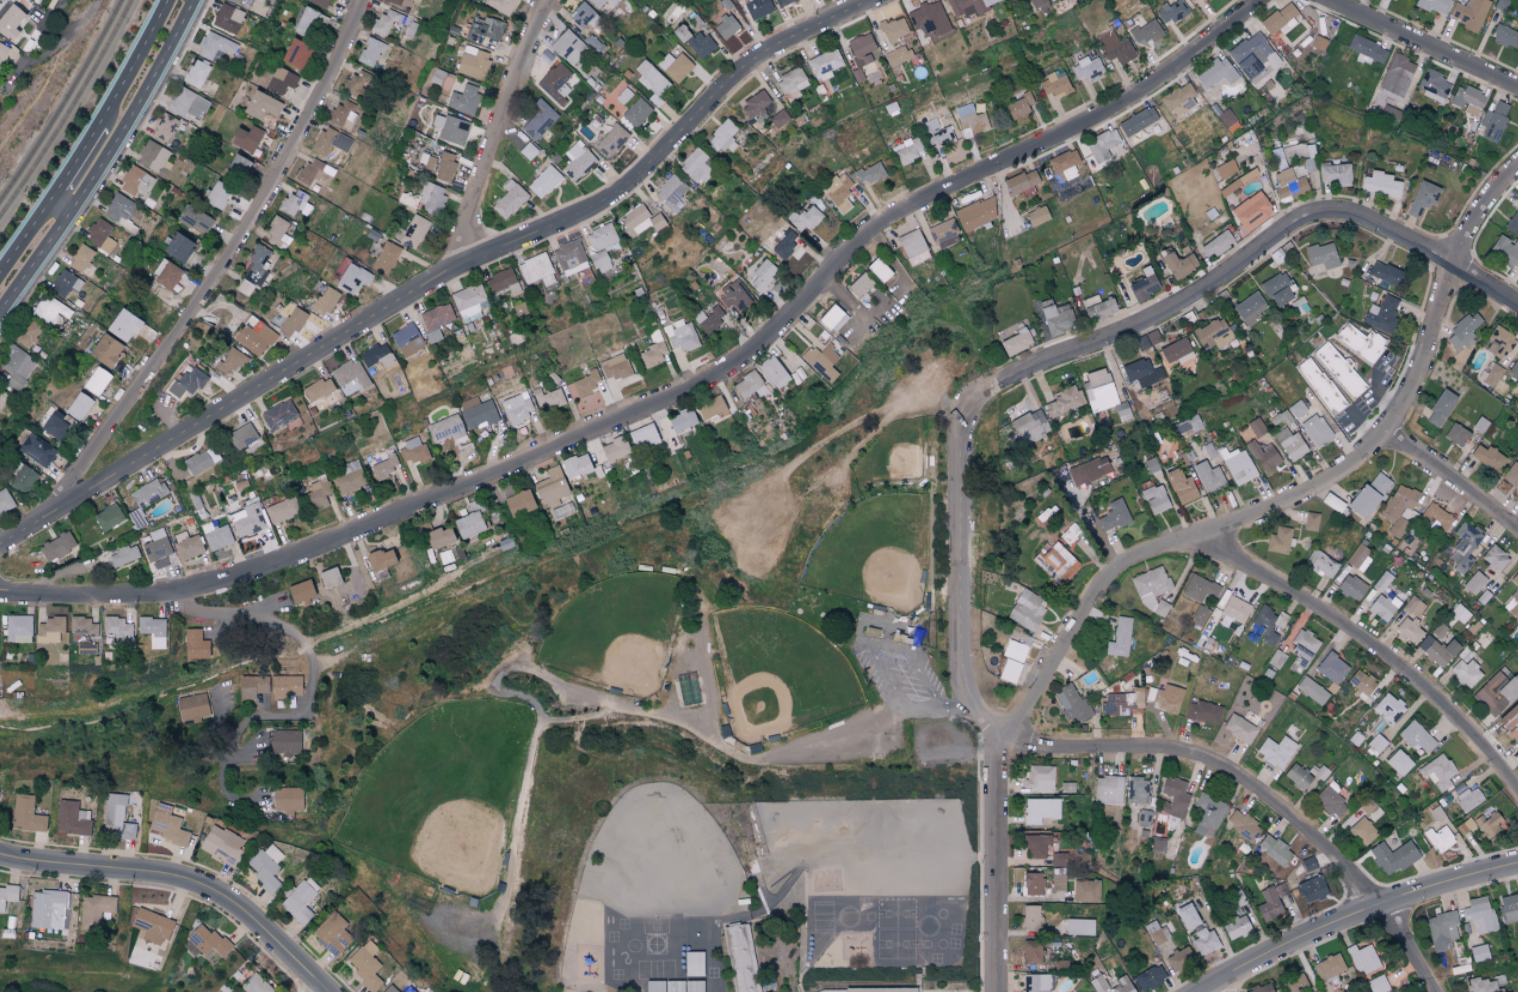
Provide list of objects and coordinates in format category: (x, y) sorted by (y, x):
building: (1191, 0)
building: (1201, 0)
building: (243, 2)
building: (319, 2)
building: (396, 2)
building: (783, 2)
building: (597, 4)
building: (500, 5)
building: (1039, 5)
building: (1433, 5)
building: (968, 6)
building: (758, 8)
building: (1171, 12)
building: (1468, 13)
building: (581, 15)
building: (1278, 17)
building: (227, 18)
building: (929, 18)
building: (9, 21)
building: (305, 21)
building: (385, 21)
building: (1287, 25)
building: (726, 26)
building: (483, 29)
building: (894, 29)
building: (1146, 31)
building: (680, 33)
building: (1505, 36)
building: (1318, 43)
road: (1424, 43)
building: (699, 44)
building: (215, 46)
building: (568, 47)
building: (861, 48)
building: (1115, 48)
building: (1366, 48)
building: (2, 50)
building: (371, 52)
building: (293, 53)
building: (897, 56)
building: (472, 62)
road: (133, 63)
building: (824, 64)
building: (675, 66)
building: (1086, 68)
road: (51, 73)
building: (196, 73)
building: (1215, 73)
building: (1397, 75)
building: (281, 80)
building: (652, 81)
building: (555, 83)
building: (791, 83)
building: (1432, 84)
building: (1054, 85)
building: (463, 99)
building: (1179, 99)
building: (1467, 100)
railway: (63, 102)
building: (186, 104)
building: (755, 104)
building: (261, 105)
building: (1018, 107)
railway: (68, 110)
building: (636, 112)
building: (1388, 112)
building: (342, 114)
building: (779, 118)
building: (538, 119)
building: (971, 120)
building: (1228, 120)
building: (1137, 121)
building: (1494, 121)
building: (164, 127)
building: (450, 128)
road: (499, 132)
building: (938, 135)
building: (723, 137)
building: (245, 138)
building: (612, 141)
building: (329, 143)
building: (1105, 146)
building: (909, 150)
building: (527, 151)
building: (1280, 157)
building: (153, 158)
road: (103, 160)
building: (577, 161)
road: (74, 163)
building: (429, 163)
building: (1064, 163)
building: (236, 165)
building: (445, 166)
building: (697, 166)
building: (1226, 168)
building: (312, 171)
building: (869, 173)
building: (1334, 174)
building: (543, 181)
building: (1021, 181)
building: (135, 182)
building: (1380, 184)
building: (1288, 185)
building: (671, 193)
building: (838, 193)
building: (217, 195)
building: (431, 197)
building: (1421, 198)
building: (509, 199)
building: (291, 203)
road: (58, 207)
building: (119, 207)
building: (1251, 210)
building: (975, 214)
building: (1037, 216)
building: (195, 219)
building: (804, 219)
building: (640, 221)
building: (1513, 223)
building: (413, 231)
building: (278, 233)
building: (943, 233)
building: (100, 235)
road: (24, 236)
building: (784, 244)
building: (911, 244)
building: (1216, 244)
building: (603, 246)
building: (178, 247)
building: (1505, 250)
building: (1321, 255)
building: (570, 257)
building: (81, 258)
building: (385, 258)
building: (1178, 265)
road: (222, 266)
building: (254, 270)
building: (536, 270)
building: (879, 270)
building: (1384, 273)
road: (444, 274)
building: (167, 275)
building: (762, 275)
building: (352, 279)
building: (502, 282)
building: (65, 284)
building: (1143, 284)
building: (860, 285)
building: (1276, 290)
building: (735, 295)
building: (324, 301)
building: (468, 302)
building: (1098, 307)
building: (1250, 307)
building: (50, 310)
building: (1381, 314)
building: (1056, 317)
building: (709, 319)
building: (832, 319)
building: (436, 320)
building: (292, 321)
building: (122, 325)
building: (1463, 332)
building: (27, 334)
building: (1212, 334)
building: (680, 335)
building: (254, 337)
building: (406, 340)
road: (1090, 341)
building: (1015, 342)
building: (1360, 342)
building: (1501, 344)
building: (104, 350)
building: (1176, 351)
building: (652, 354)
building: (376, 356)
building: (232, 360)
building: (821, 361)
building: (16, 366)
building: (614, 367)
building: (1339, 369)
building: (1514, 369)
building: (773, 372)
building: (1142, 373)
building: (1490, 374)
building: (350, 377)
building: (97, 381)
building: (187, 382)
building: (585, 384)
building: (747, 384)
building: (1318, 385)
building: (319, 389)
road: (675, 394)
building: (1103, 394)
road: (1385, 394)
building: (548, 399)
building: (1064, 401)
building: (79, 406)
building: (710, 407)
building: (517, 408)
building: (1296, 408)
building: (1440, 408)
building: (278, 414)
building: (479, 415)
building: (682, 420)
road: (1363, 424)
building: (55, 425)
building: (1031, 425)
building: (1256, 427)
building: (446, 428)
building: (1316, 431)
building: (1457, 435)
building: (242, 436)
building: (643, 436)
building: (1290, 444)
building: (614, 449)
building: (36, 450)
building: (413, 451)
building: (1263, 455)
park: (898, 456)
building: (1487, 457)
building: (199, 461)
building: (1151, 465)
building: (576, 466)
building: (1238, 466)
building: (383, 468)
building: (1088, 471)
road: (1452, 475)
building: (1511, 475)
building: (348, 478)
building: (1208, 478)
building: (22, 479)
building: (551, 486)
building: (1180, 487)
building: (148, 493)
building: (317, 493)
building: (1368, 496)
road: (1300, 498)
building: (1155, 499)
building: (5, 502)
building: (1332, 502)
building: (518, 503)
building: (1399, 509)
building: (281, 511)
building: (1113, 516)
building: (108, 517)
building: (1436, 517)
building: (137, 519)
building: (247, 521)
building: (467, 525)
building: (1309, 525)
building: (1069, 535)
building: (216, 536)
building: (438, 537)
building: (1278, 541)
building: (187, 545)
building: (157, 546)
building: (56, 547)
building: (1464, 547)
park: (873, 554)
building: (124, 555)
building: (1359, 556)
building: (1494, 558)
building: (379, 559)
building: (1322, 562)
building: (328, 577)
building: (1515, 579)
building: (1382, 582)
building: (1474, 583)
building: (1351, 587)
building: (1200, 590)
building: (1151, 591)
building: (300, 592)
building: (1512, 604)
building: (1383, 607)
building: (1413, 607)
building: (1235, 609)
building: (1025, 610)
building: (1459, 614)
building: (1199, 615)
building: (1262, 627)
building: (83, 628)
building: (18, 629)
building: (49, 629)
building: (1438, 630)
building: (117, 631)
building: (153, 631)
building: (1408, 631)
park: (616, 634)
building: (1119, 638)
road: (1366, 642)
building: (195, 644)
building: (85, 649)
building: (1302, 650)
building: (1438, 650)
building: (1015, 651)
road: (875, 652)
building: (1276, 659)
park: (652, 663)
road: (310, 667)
building: (1010, 670)
building: (1332, 670)
parking lot: (897, 672)
building: (1467, 673)
park: (776, 674)
building: (1361, 684)
building: (252, 686)
building: (285, 686)
road: (579, 690)
building: (1312, 691)
building: (1496, 693)
building: (1166, 698)
building: (1072, 704)
building: (1117, 705)
building: (192, 706)
road: (954, 707)
building: (1388, 708)
building: (1202, 712)
building: (1510, 722)
building: (1239, 729)
building: (1416, 736)
building: (286, 742)
building: (1377, 743)
building: (1276, 751)
building: (1399, 762)
building: (1439, 772)
building: (1298, 776)
building: (1039, 779)
road: (1262, 785)
building: (1108, 790)
building: (1136, 790)
park: (442, 794)
building: (1173, 797)
building: (286, 799)
building: (1469, 799)
building: (1331, 800)
building: (1040, 810)
building: (1207, 812)
building: (26, 815)
building: (72, 818)
building: (116, 819)
building: (1242, 824)
building: (1489, 824)
building: (167, 825)
building: (1465, 826)
building: (1362, 831)
building: (1440, 838)
building: (222, 845)
building: (1157, 845)
building: (1274, 850)
building: (1392, 857)
building: (1059, 859)
building: (1308, 865)
building: (266, 868)
road: (996, 869)
road: (186, 878)
building: (1033, 884)
building: (1310, 889)
building: (1085, 890)
building: (8, 895)
building: (300, 901)
building: (1269, 905)
building: (1509, 908)
building: (47, 909)
building: (95, 909)
building: (1479, 914)
building: (1186, 917)
building: (1030, 918)
road: (1356, 918)
building: (151, 926)
building: (1079, 927)
building: (1236, 927)
building: (1441, 931)
building: (1156, 933)
building: (332, 934)
building: (207, 941)
building: (1204, 942)
building: (1031, 952)
building: (1479, 953)
building: (739, 956)
building: (1179, 958)
building: (1363, 959)
building: (693, 964)
building: (365, 966)
building: (1328, 967)
building: (1149, 978)
building: (1035, 983)
building: (1098, 984)
building: (1295, 984)
building: (1377, 984)
building: (1485, 984)
building: (255, 985)
building: (1122, 985)
building: (674, 986)
road: (1217, 988)
building: (1261, 988)
building: (390, 989)
road: (329, 990)
building: (408, 990)
building: (880, 990)

